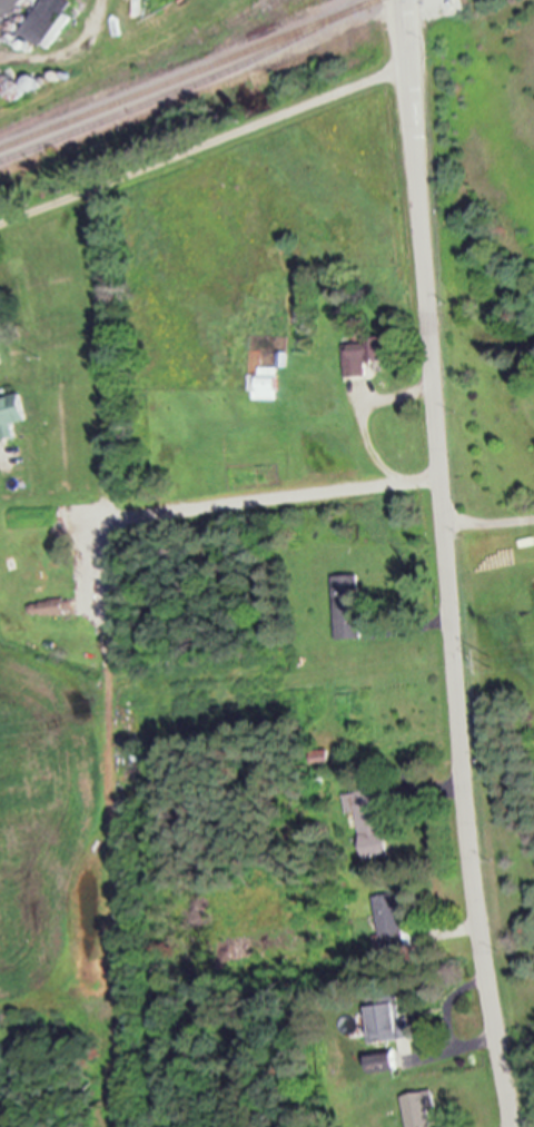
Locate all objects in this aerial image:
building: (7, 10)
building: (44, 19)
railway: (229, 20)
road: (404, 31)
railway: (141, 65)
railway: (188, 73)
railway: (185, 88)
road: (204, 144)
building: (358, 356)
building: (264, 384)
building: (10, 415)
building: (22, 577)
road: (451, 595)
building: (52, 607)
building: (345, 615)
power tower: (486, 659)
building: (369, 820)
crop: (63, 851)
building: (390, 926)
building: (387, 1021)
building: (418, 1109)

